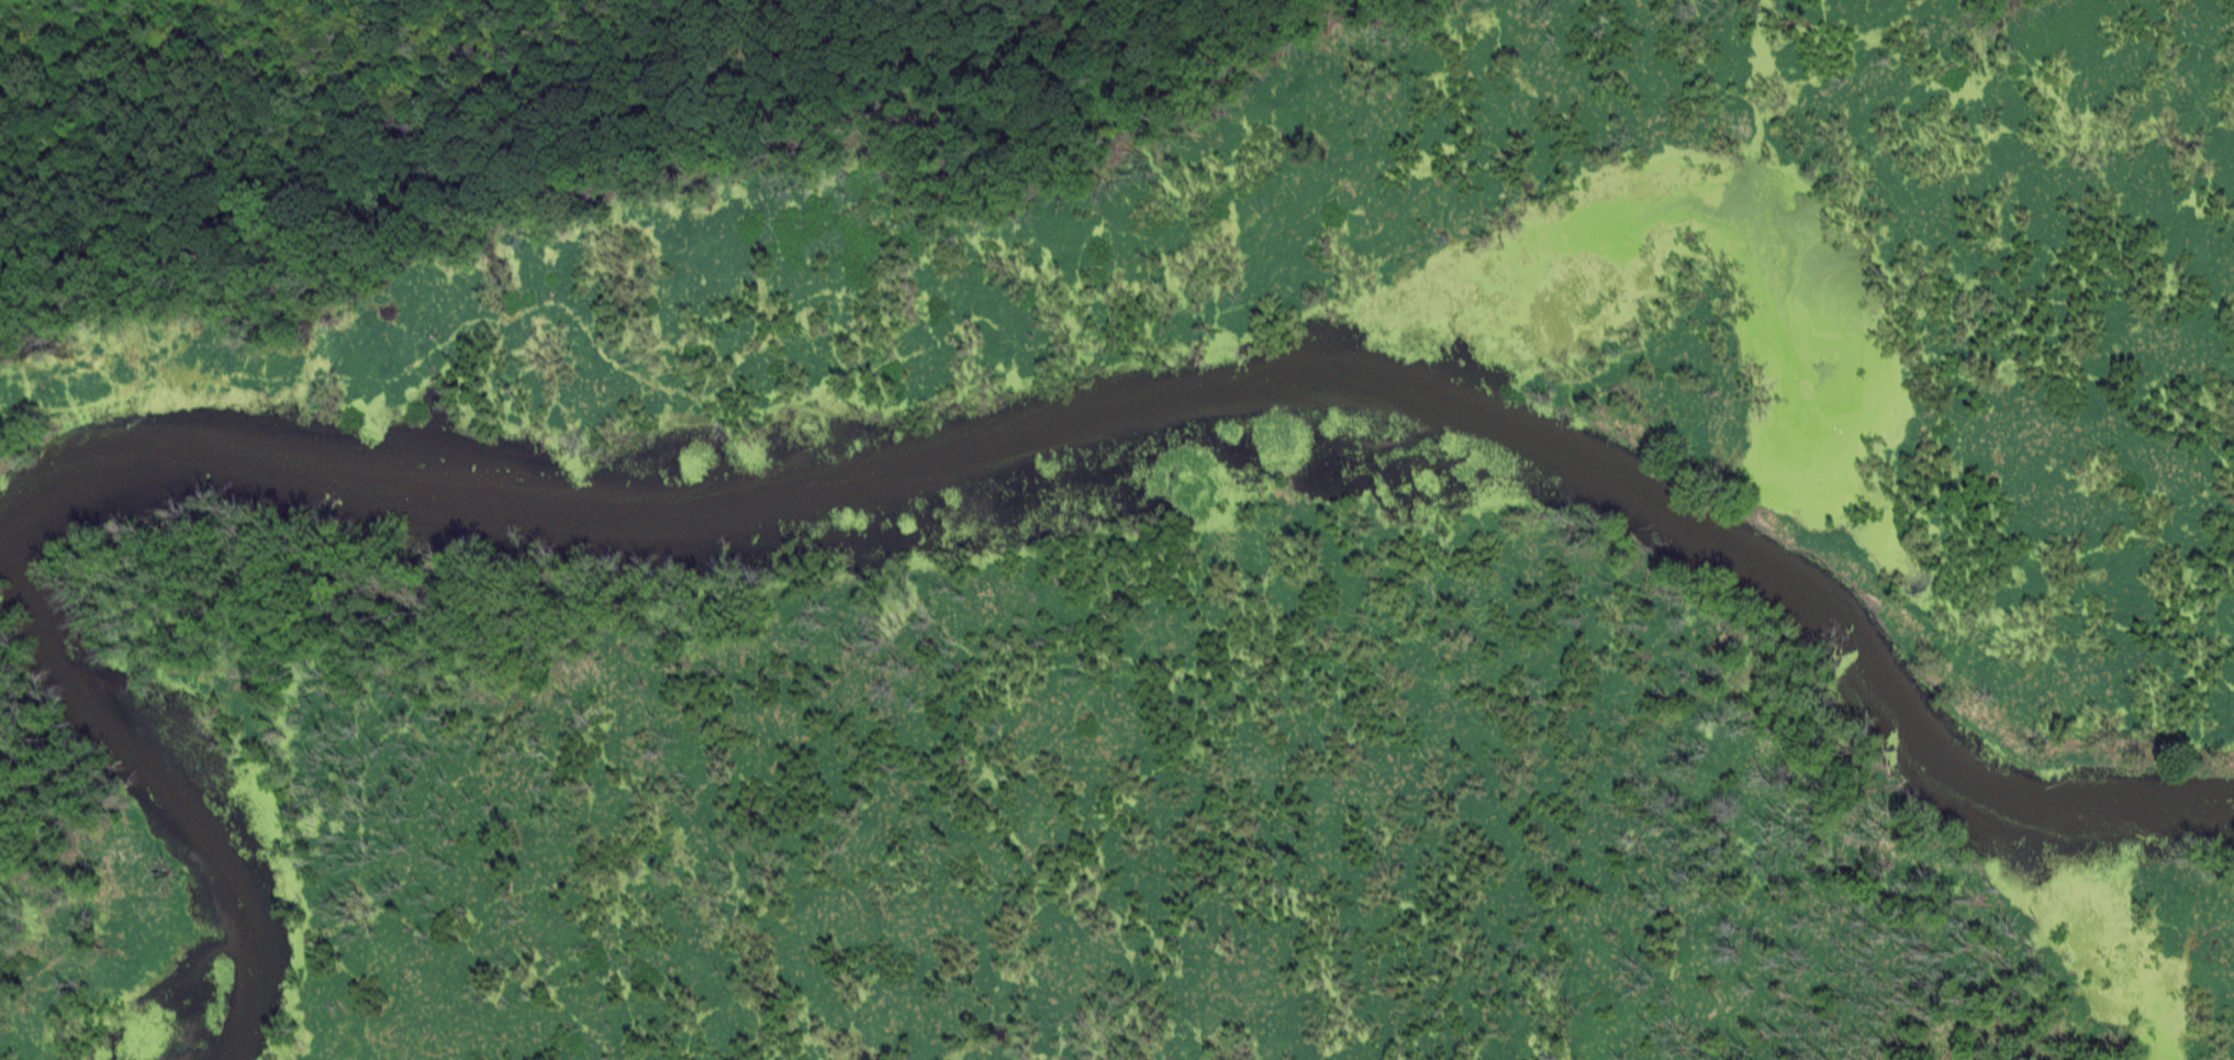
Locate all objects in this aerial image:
river: (1176, 449)

